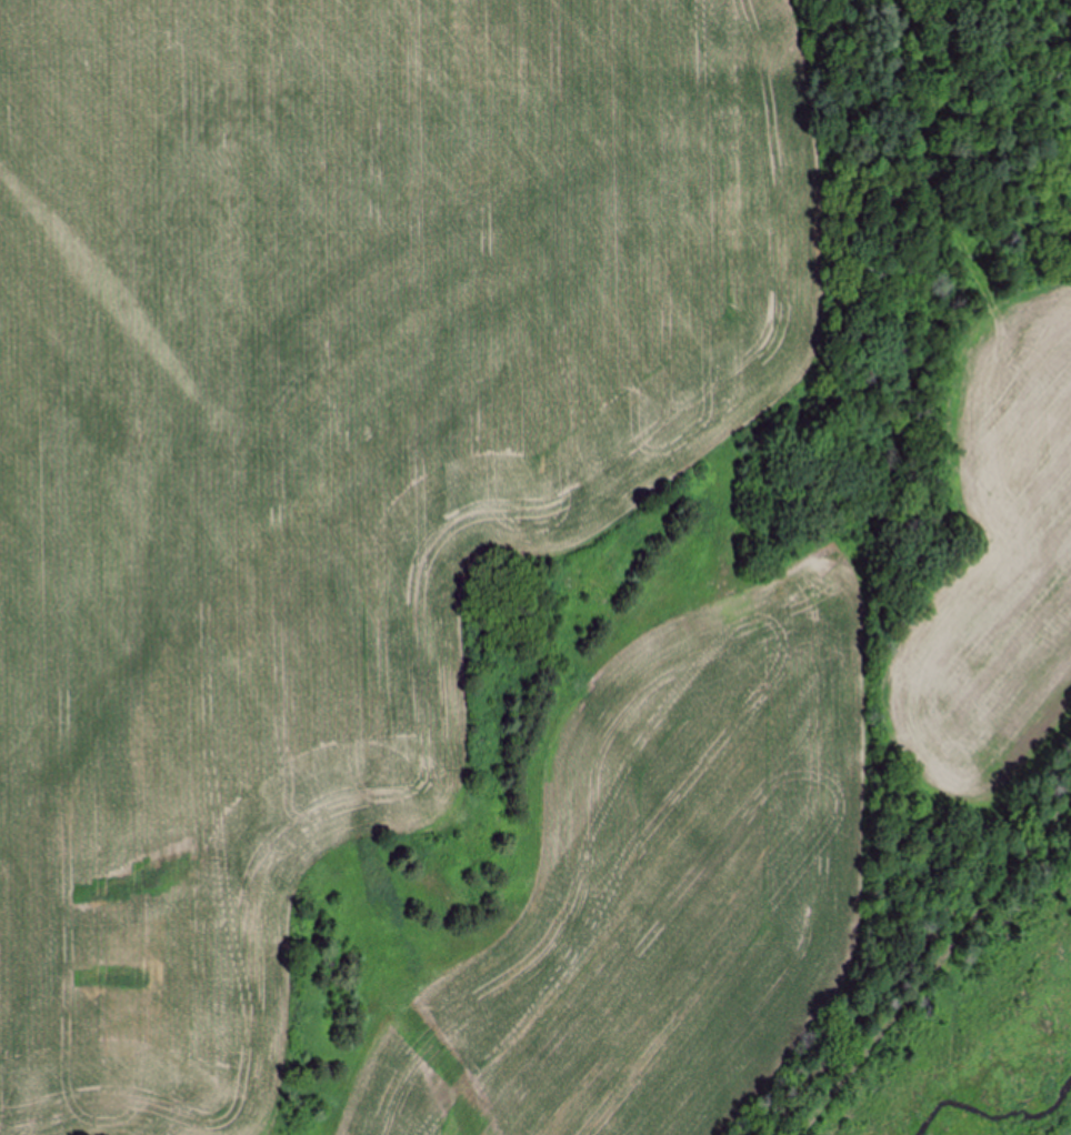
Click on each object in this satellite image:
road: (935, 968)

